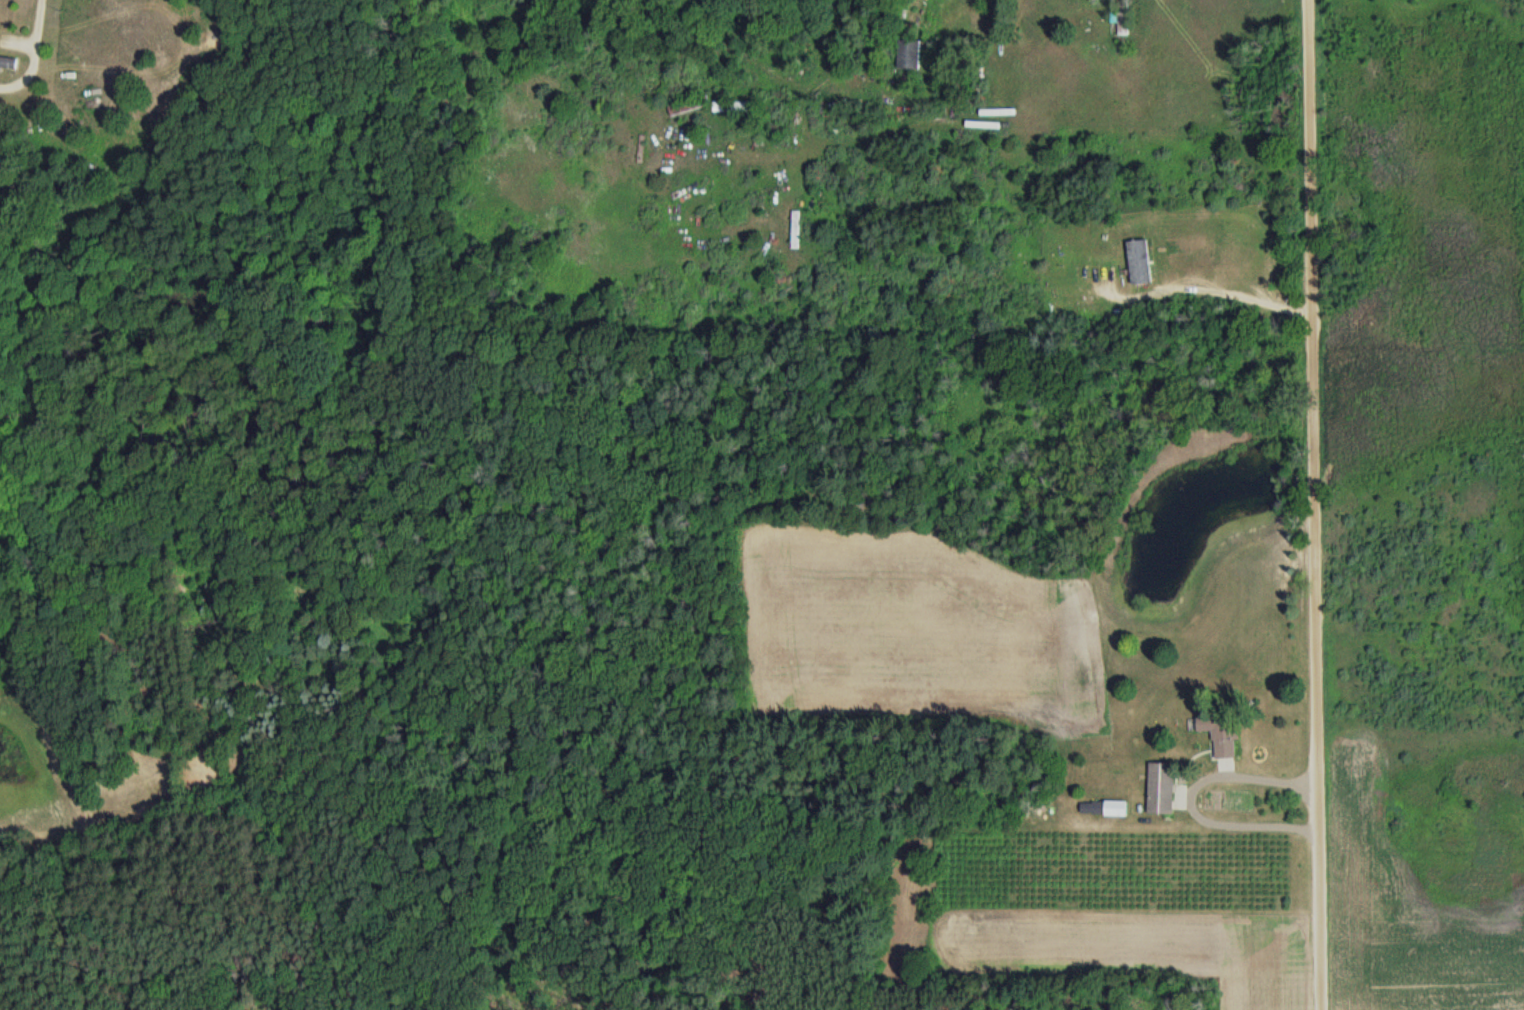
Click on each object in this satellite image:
building: (1122, 17)
building: (909, 55)
building: (9, 63)
building: (1140, 262)
road: (1208, 288)
road: (1312, 505)
building: (1221, 734)
building: (1162, 788)
road: (1190, 798)
building: (1116, 808)

